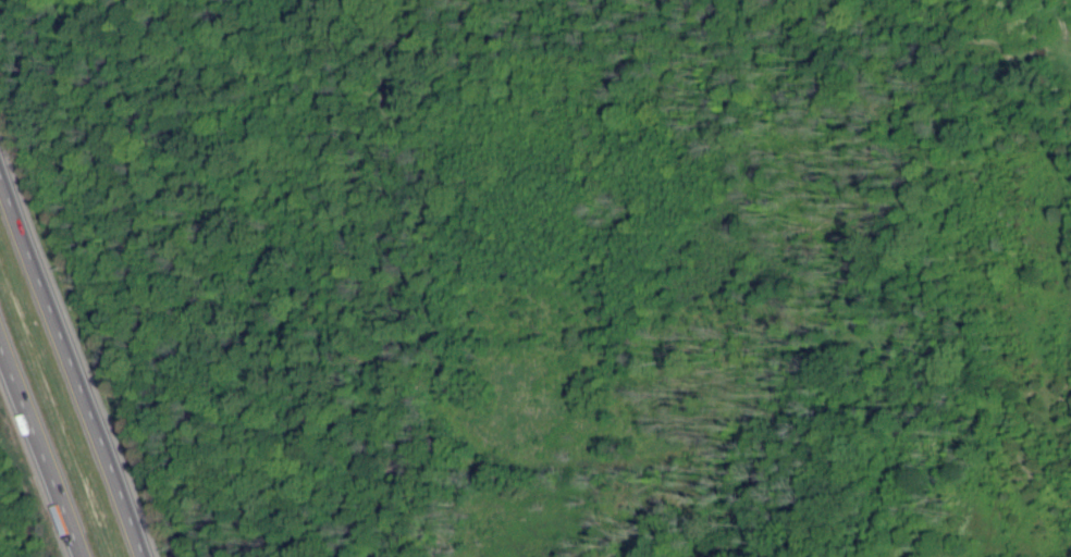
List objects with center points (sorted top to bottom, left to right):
road: (73, 361)
road: (40, 448)

